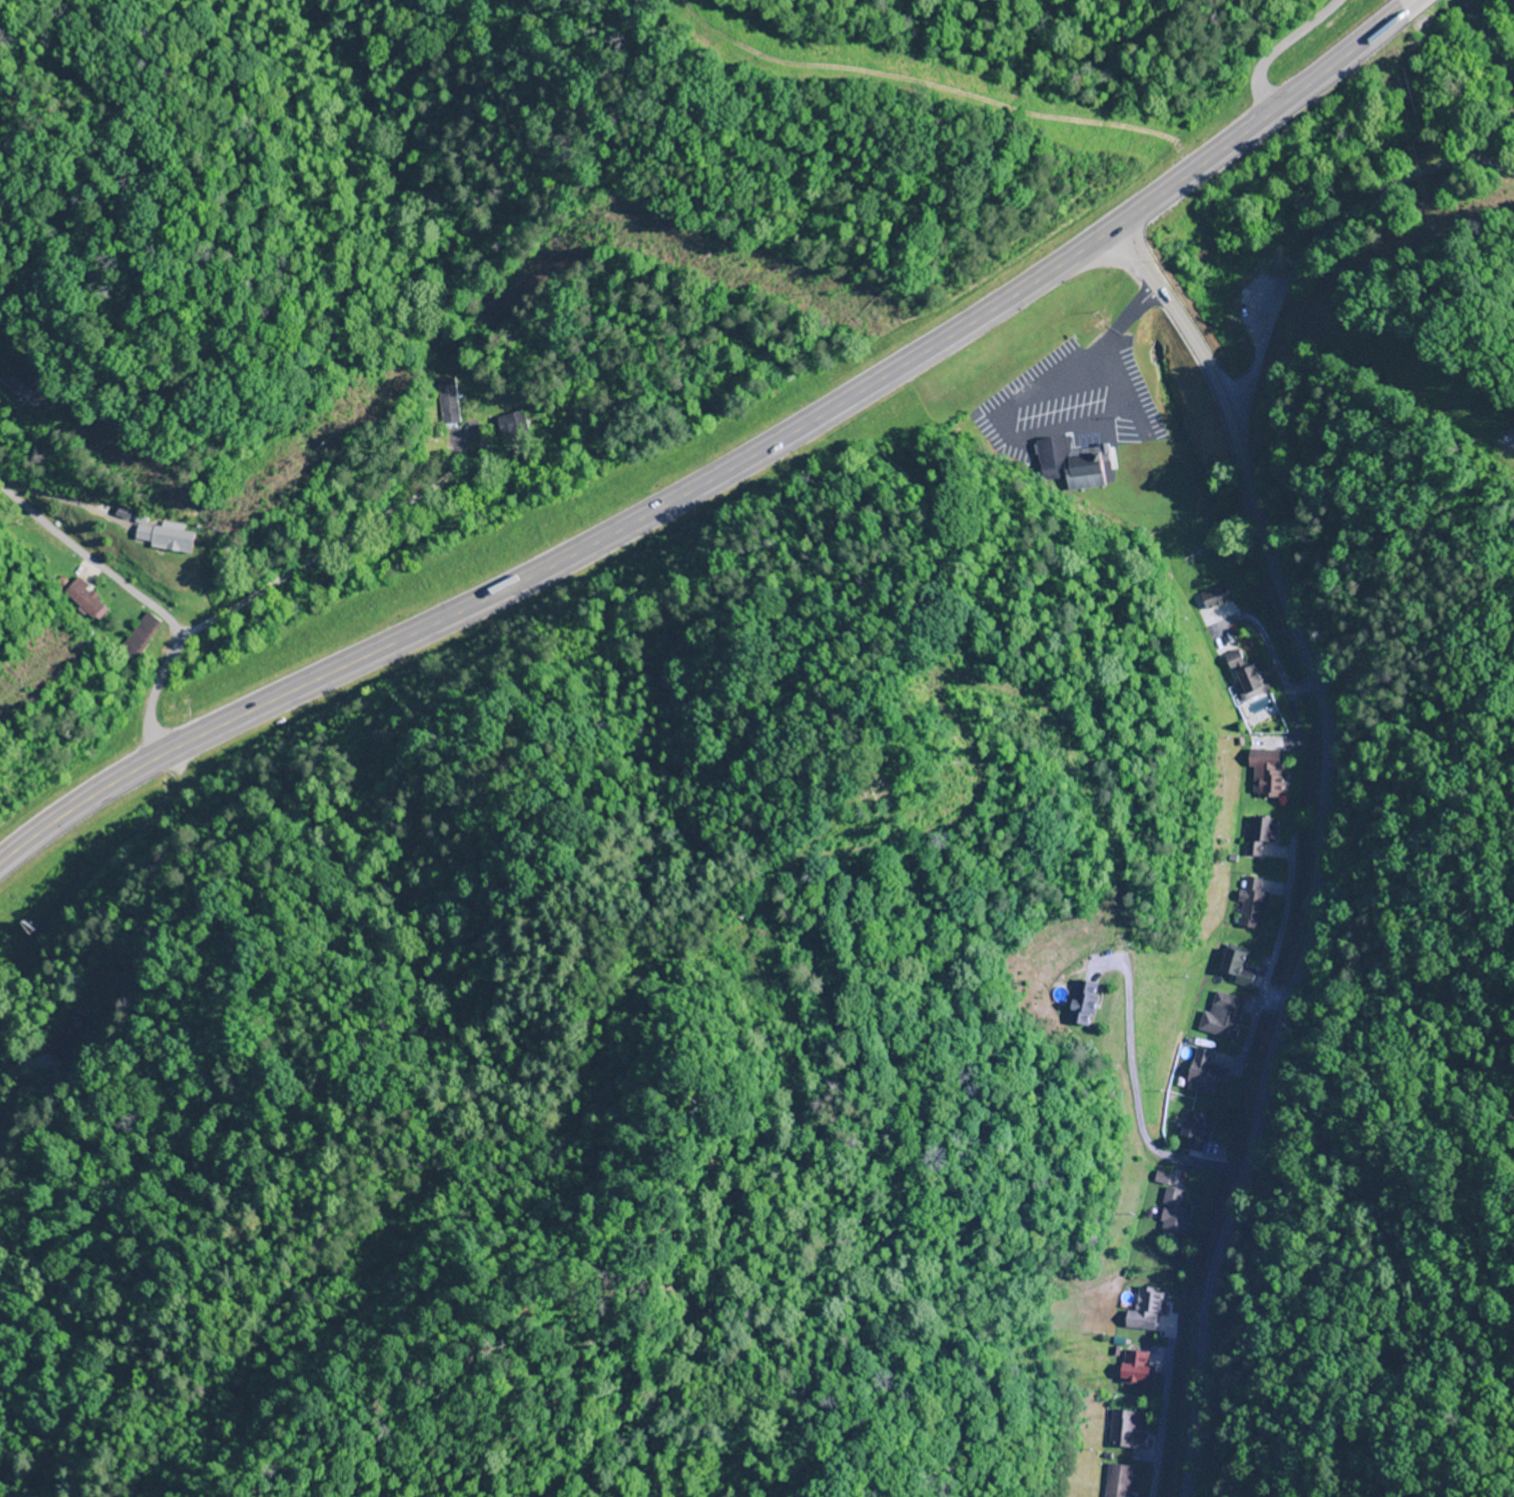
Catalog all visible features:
road: (1428, 3)
road: (1416, 13)
river: (1492, 40)
road: (1277, 50)
road: (1343, 242)
building: (19, 386)
building: (511, 425)
road: (724, 479)
building: (161, 538)
road: (299, 569)
road: (111, 581)
building: (82, 599)
building: (145, 620)
building: (1246, 679)
road: (148, 728)
building: (1262, 777)
building: (1259, 834)
road: (1316, 849)
building: (1250, 901)
building: (1231, 969)
building: (1084, 988)
building: (1220, 1016)
building: (66, 1035)
building: (1199, 1073)
building: (1193, 1132)
building: (1171, 1221)
building: (1115, 1481)

